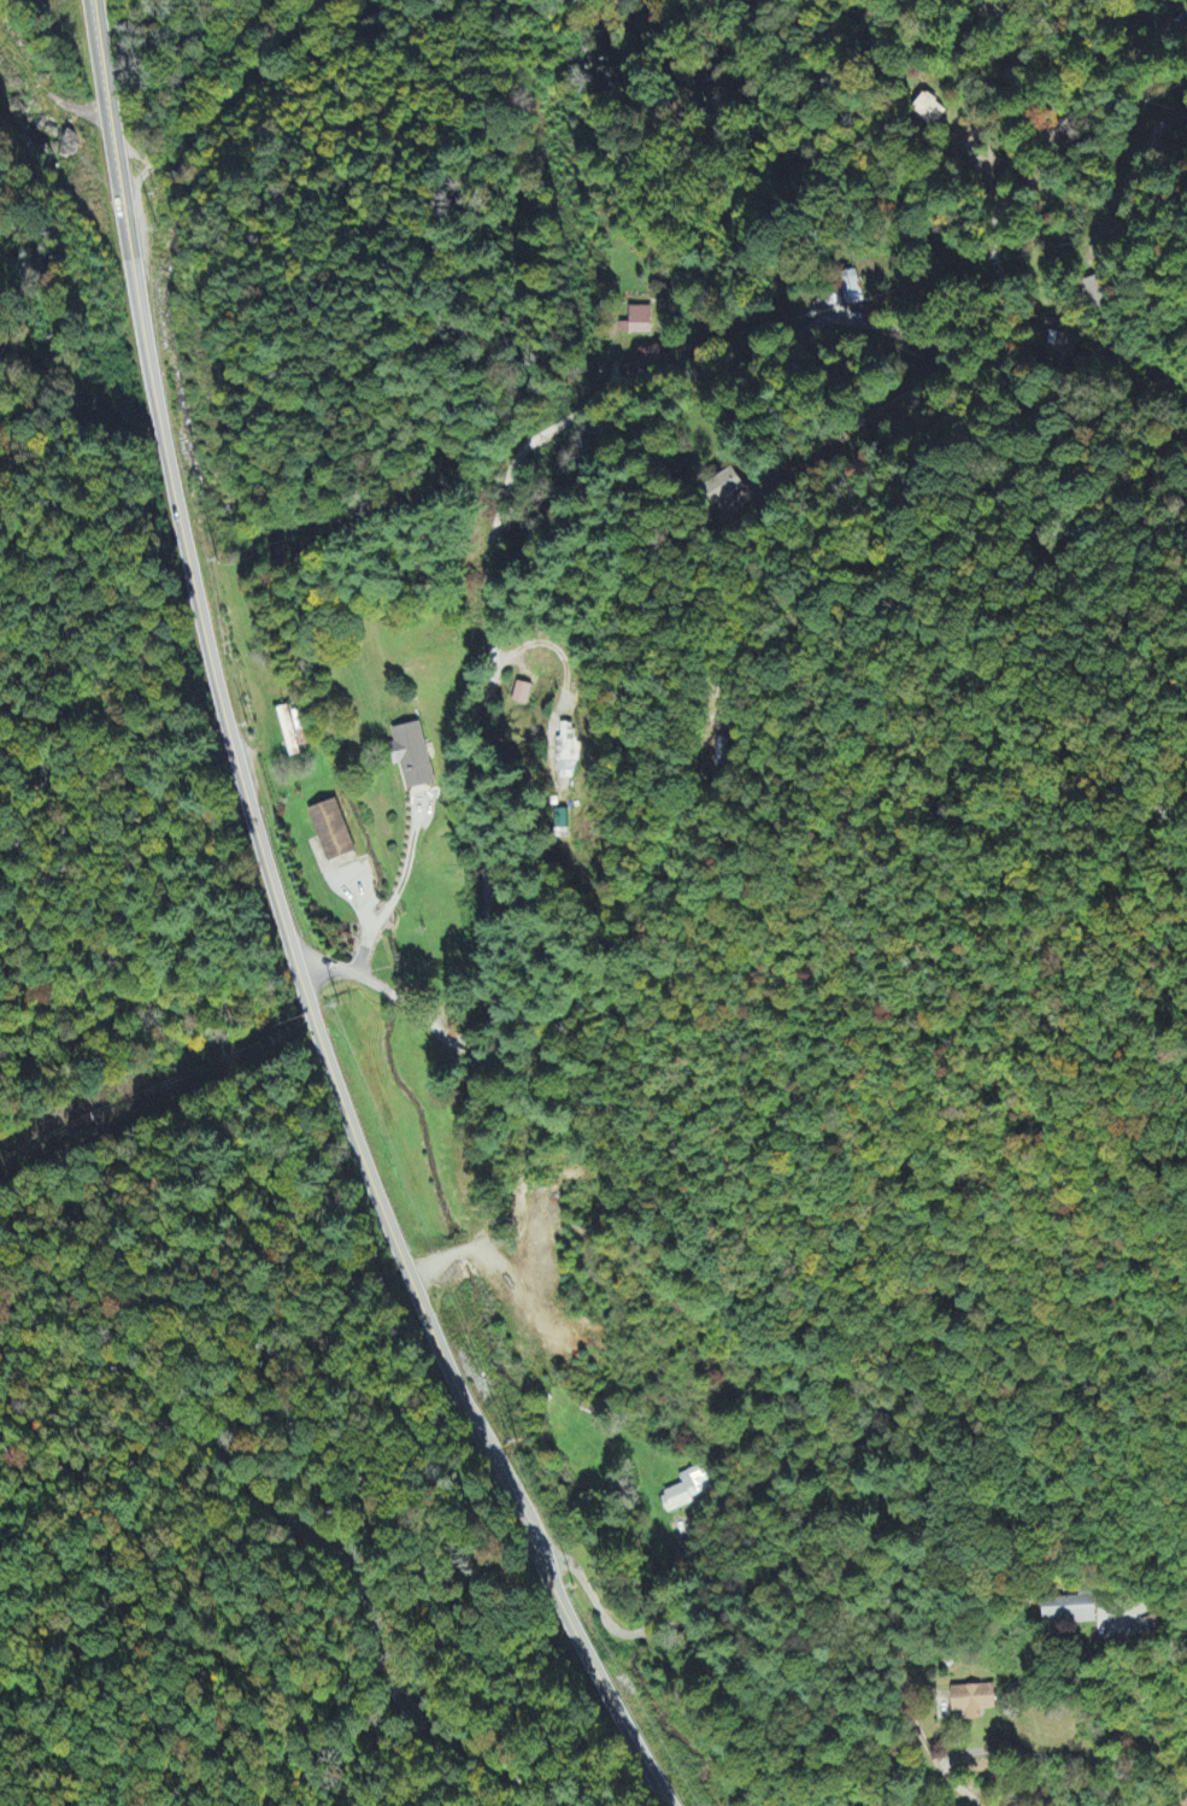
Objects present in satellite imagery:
road: (260, 92)
building: (928, 112)
building: (851, 289)
building: (1097, 295)
building: (639, 324)
road: (569, 418)
building: (724, 488)
road: (215, 684)
building: (521, 696)
building: (292, 732)
building: (565, 752)
building: (410, 757)
building: (330, 833)
building: (684, 1493)
road: (301, 1532)
road: (546, 1577)
road: (1157, 1611)
building: (1069, 1612)
building: (972, 1702)
road: (1039, 1755)

